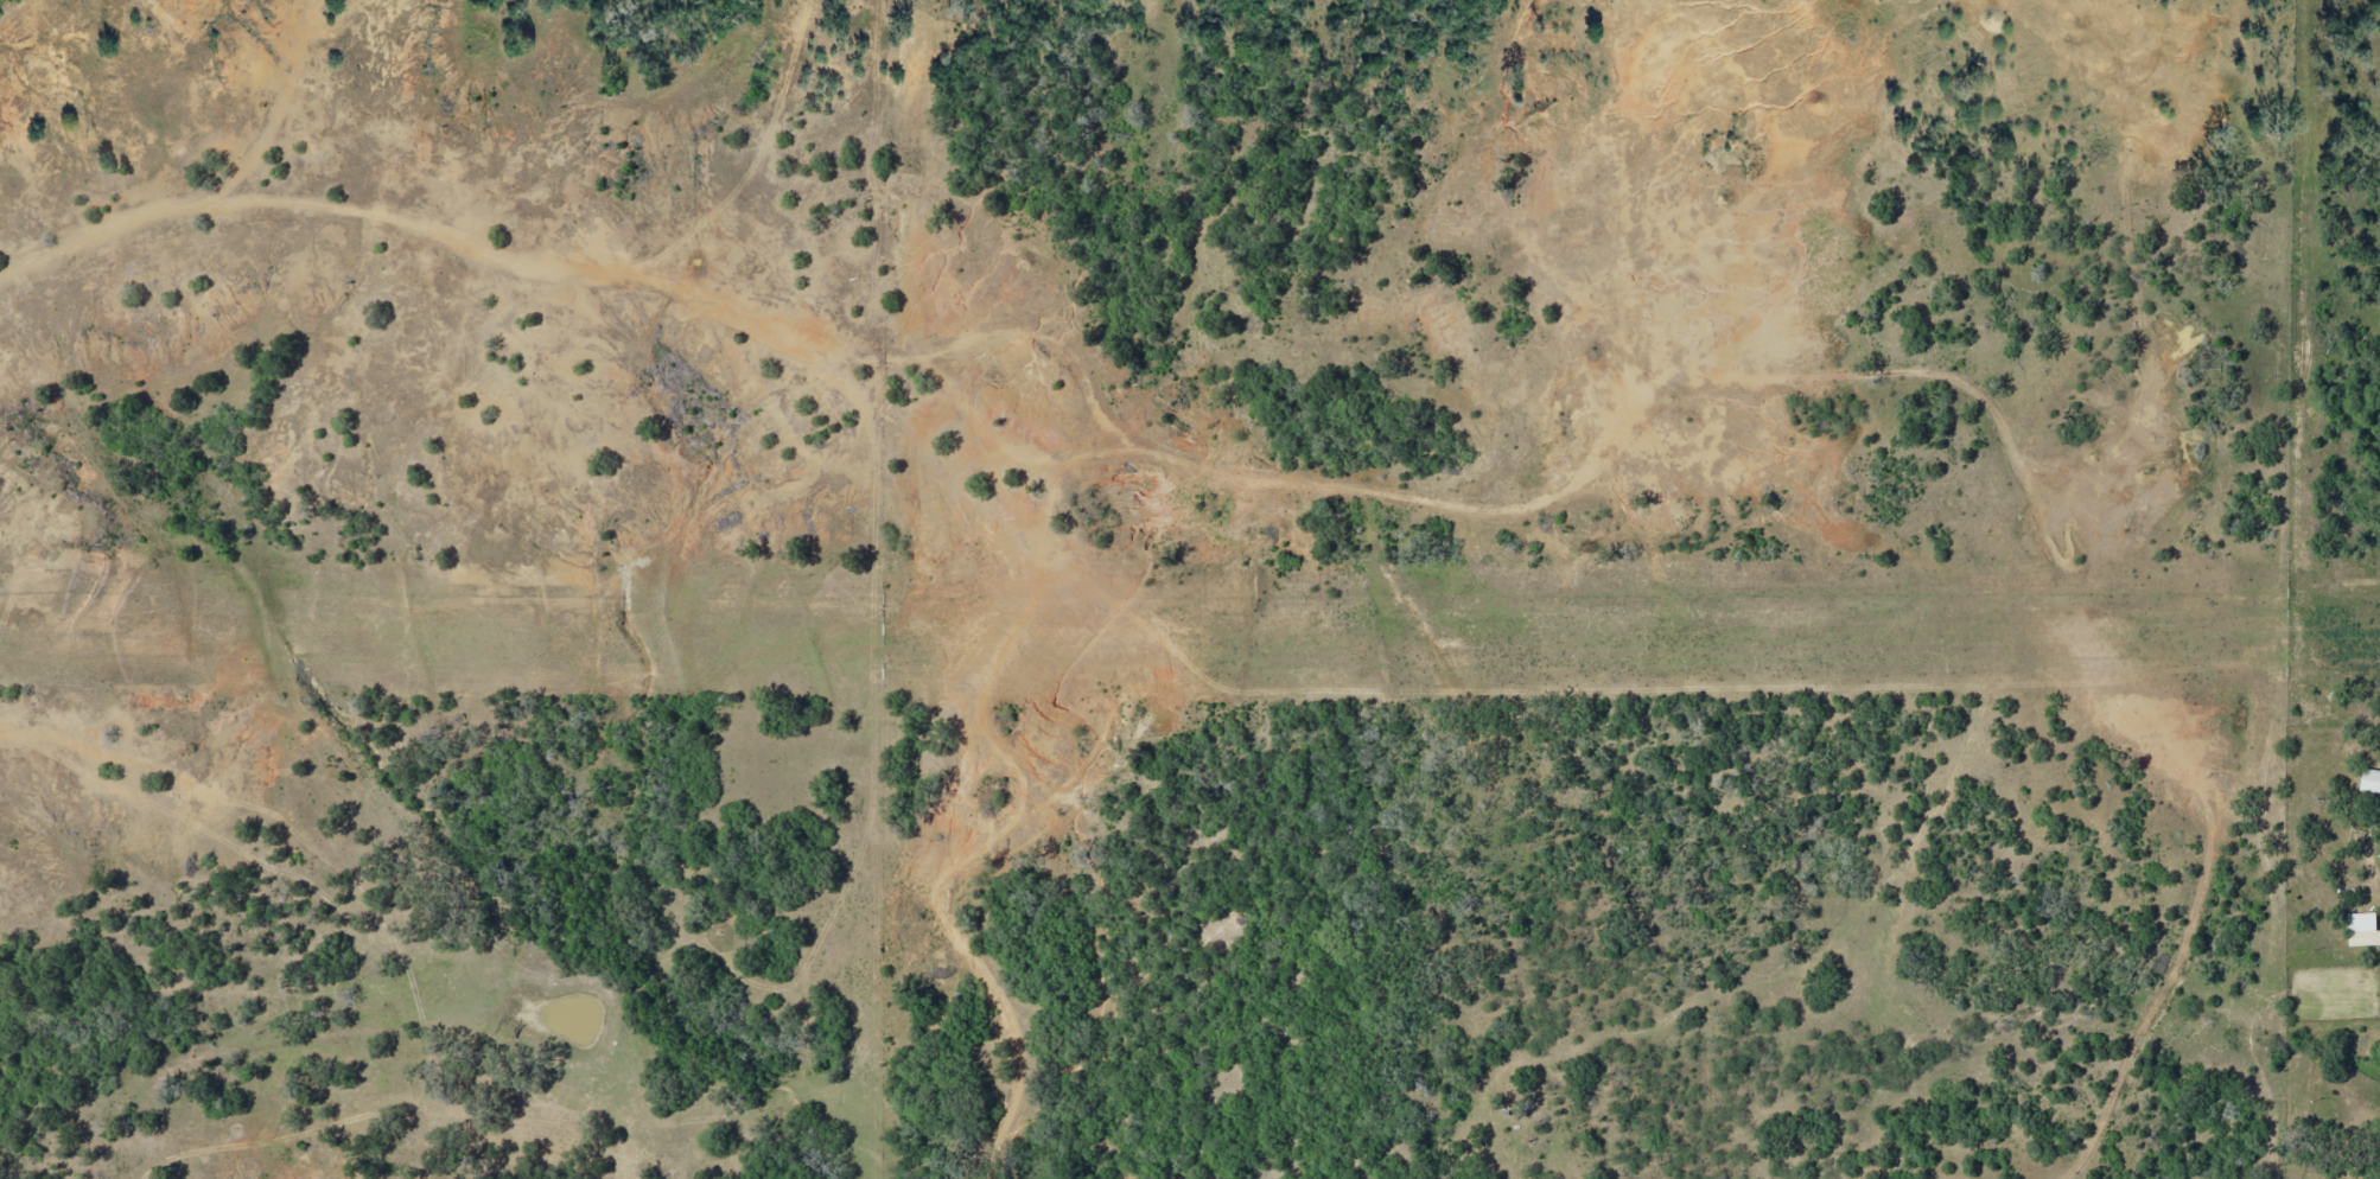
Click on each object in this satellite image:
building: (2371, 780)
building: (2362, 930)

